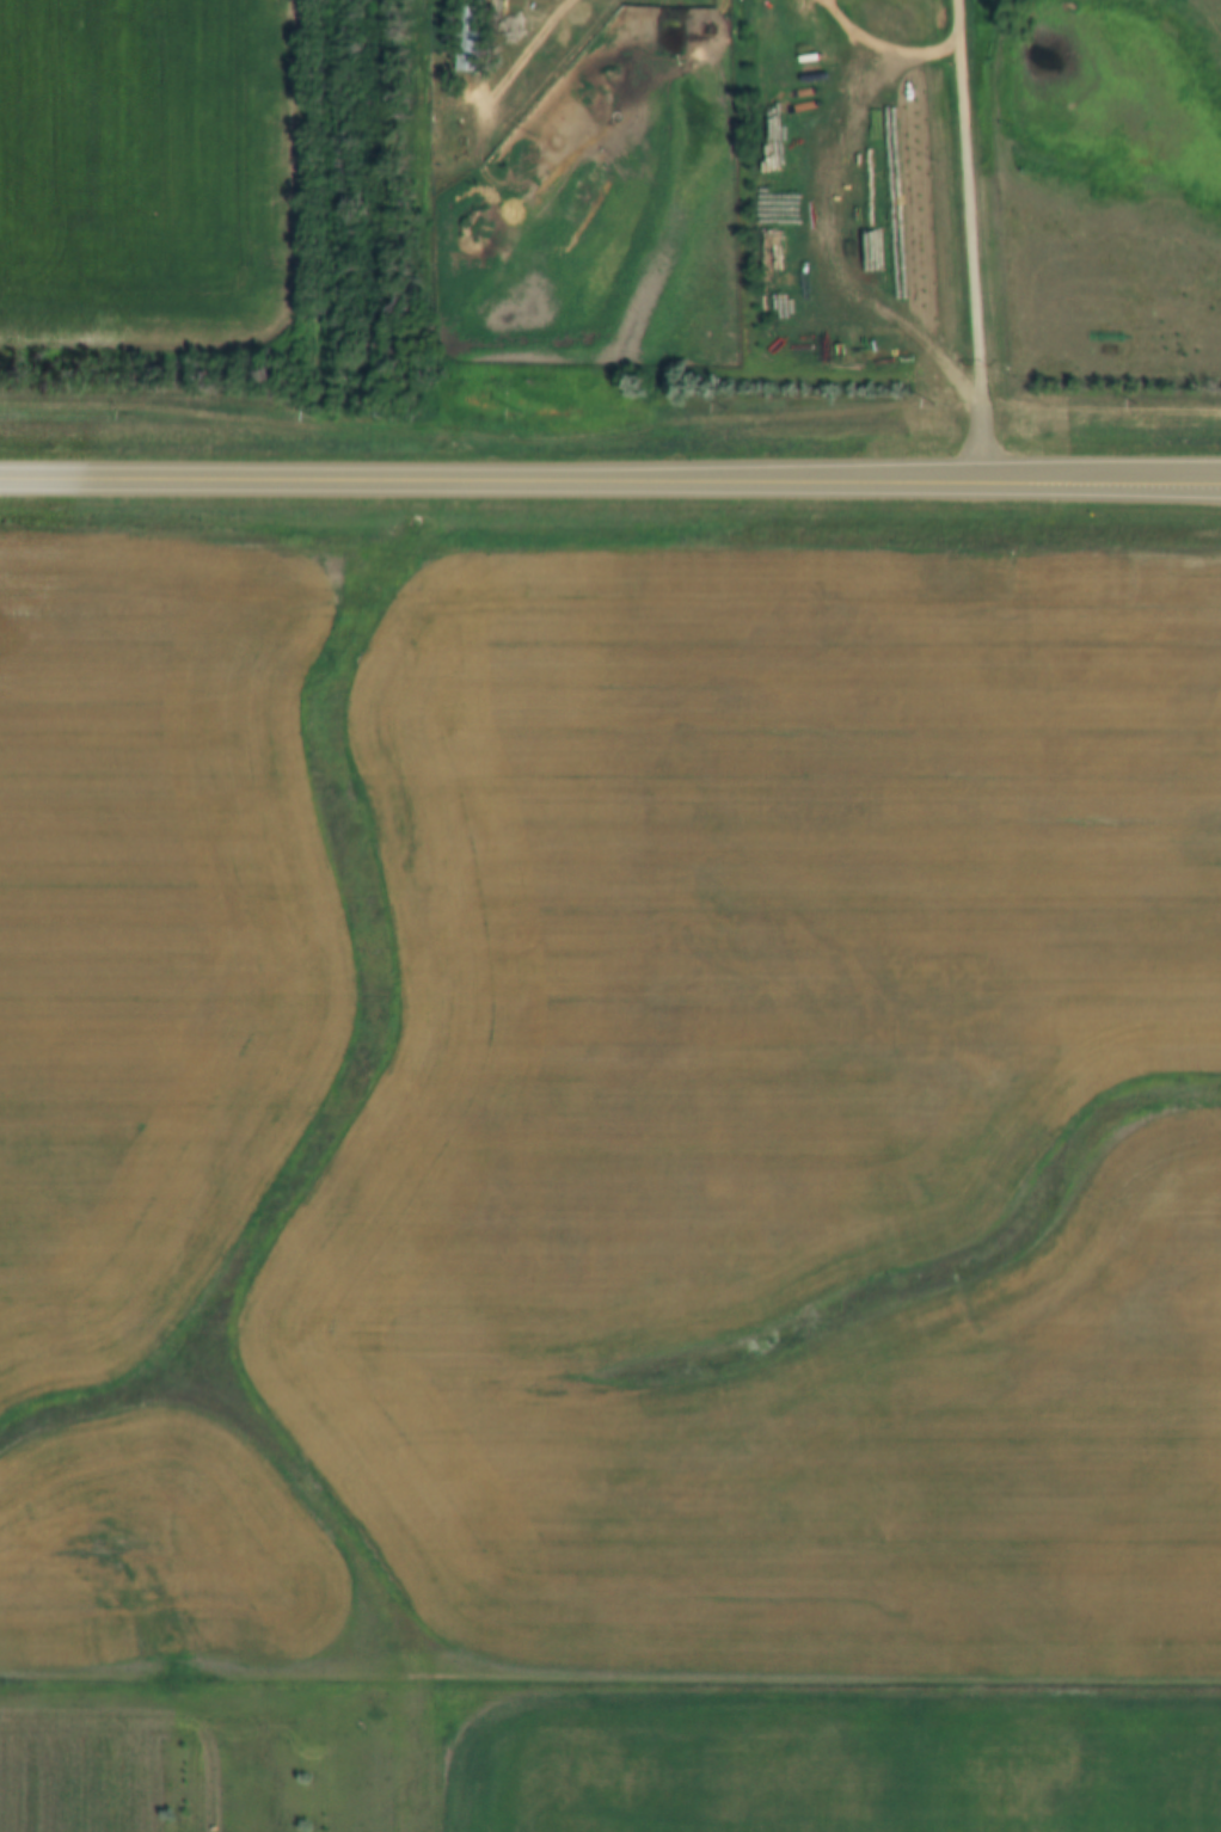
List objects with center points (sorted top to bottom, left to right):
road: (530, 19)
building: (465, 36)
road: (884, 45)
road: (971, 241)
road: (609, 482)

